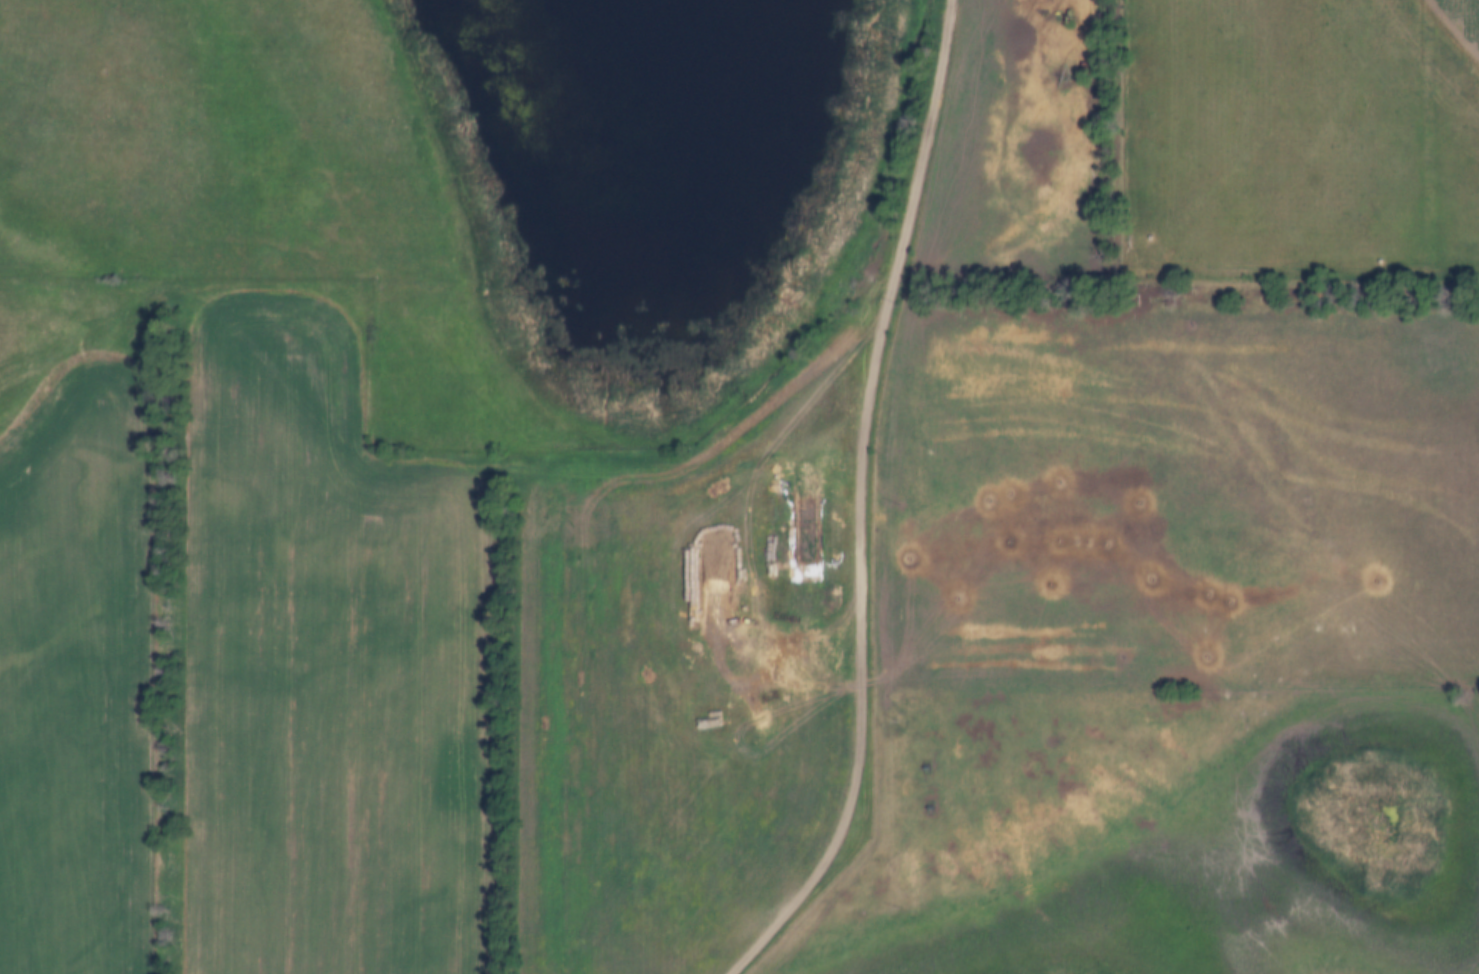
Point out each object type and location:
road: (401, 459)
road: (857, 502)

